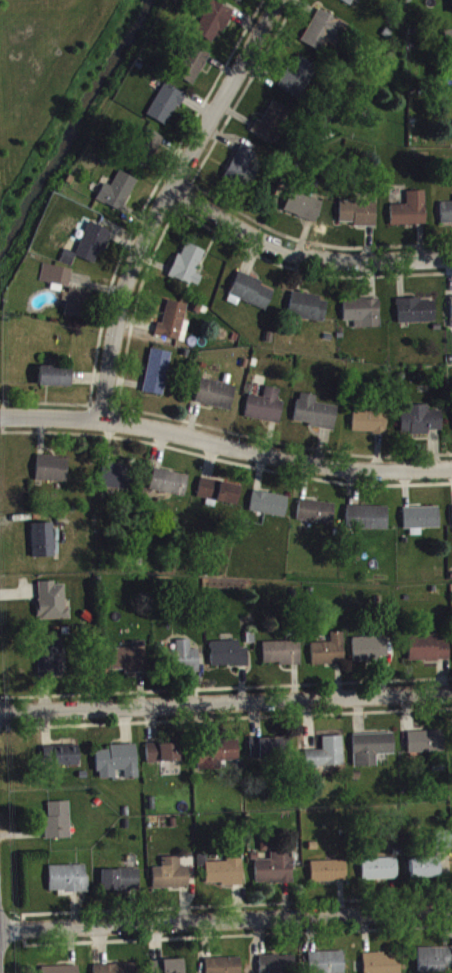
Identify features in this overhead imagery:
building: (238, 2)
building: (347, 3)
building: (213, 24)
building: (326, 37)
building: (450, 52)
building: (193, 69)
building: (299, 81)
building: (166, 109)
building: (273, 127)
building: (147, 152)
building: (243, 165)
building: (118, 196)
road: (166, 201)
building: (304, 211)
building: (411, 214)
building: (359, 217)
building: (446, 217)
building: (94, 246)
road: (304, 255)
building: (189, 269)
building: (56, 279)
building: (253, 295)
building: (76, 307)
building: (310, 311)
building: (418, 315)
building: (364, 317)
building: (175, 326)
building: (158, 376)
building: (56, 380)
building: (217, 398)
building: (267, 410)
building: (316, 417)
building: (421, 424)
building: (371, 425)
road: (225, 448)
building: (54, 473)
building: (117, 481)
building: (171, 487)
building: (221, 496)
building: (271, 508)
building: (318, 516)
building: (368, 522)
building: (422, 523)
building: (44, 544)
building: (53, 606)
building: (428, 651)
building: (371, 653)
building: (331, 655)
building: (284, 657)
building: (51, 658)
building: (230, 658)
building: (185, 660)
building: (128, 663)
road: (226, 705)
building: (427, 746)
building: (372, 753)
building: (164, 757)
building: (218, 758)
building: (328, 758)
building: (67, 759)
building: (118, 766)
building: (59, 825)
building: (277, 872)
building: (380, 873)
building: (425, 873)
building: (226, 875)
building: (330, 876)
building: (172, 879)
building: (69, 883)
building: (121, 884)
road: (226, 923)
building: (435, 962)
building: (328, 964)
building: (382, 965)
building: (278, 966)
building: (225, 967)
building: (171, 968)
building: (117, 970)
building: (63, 972)

